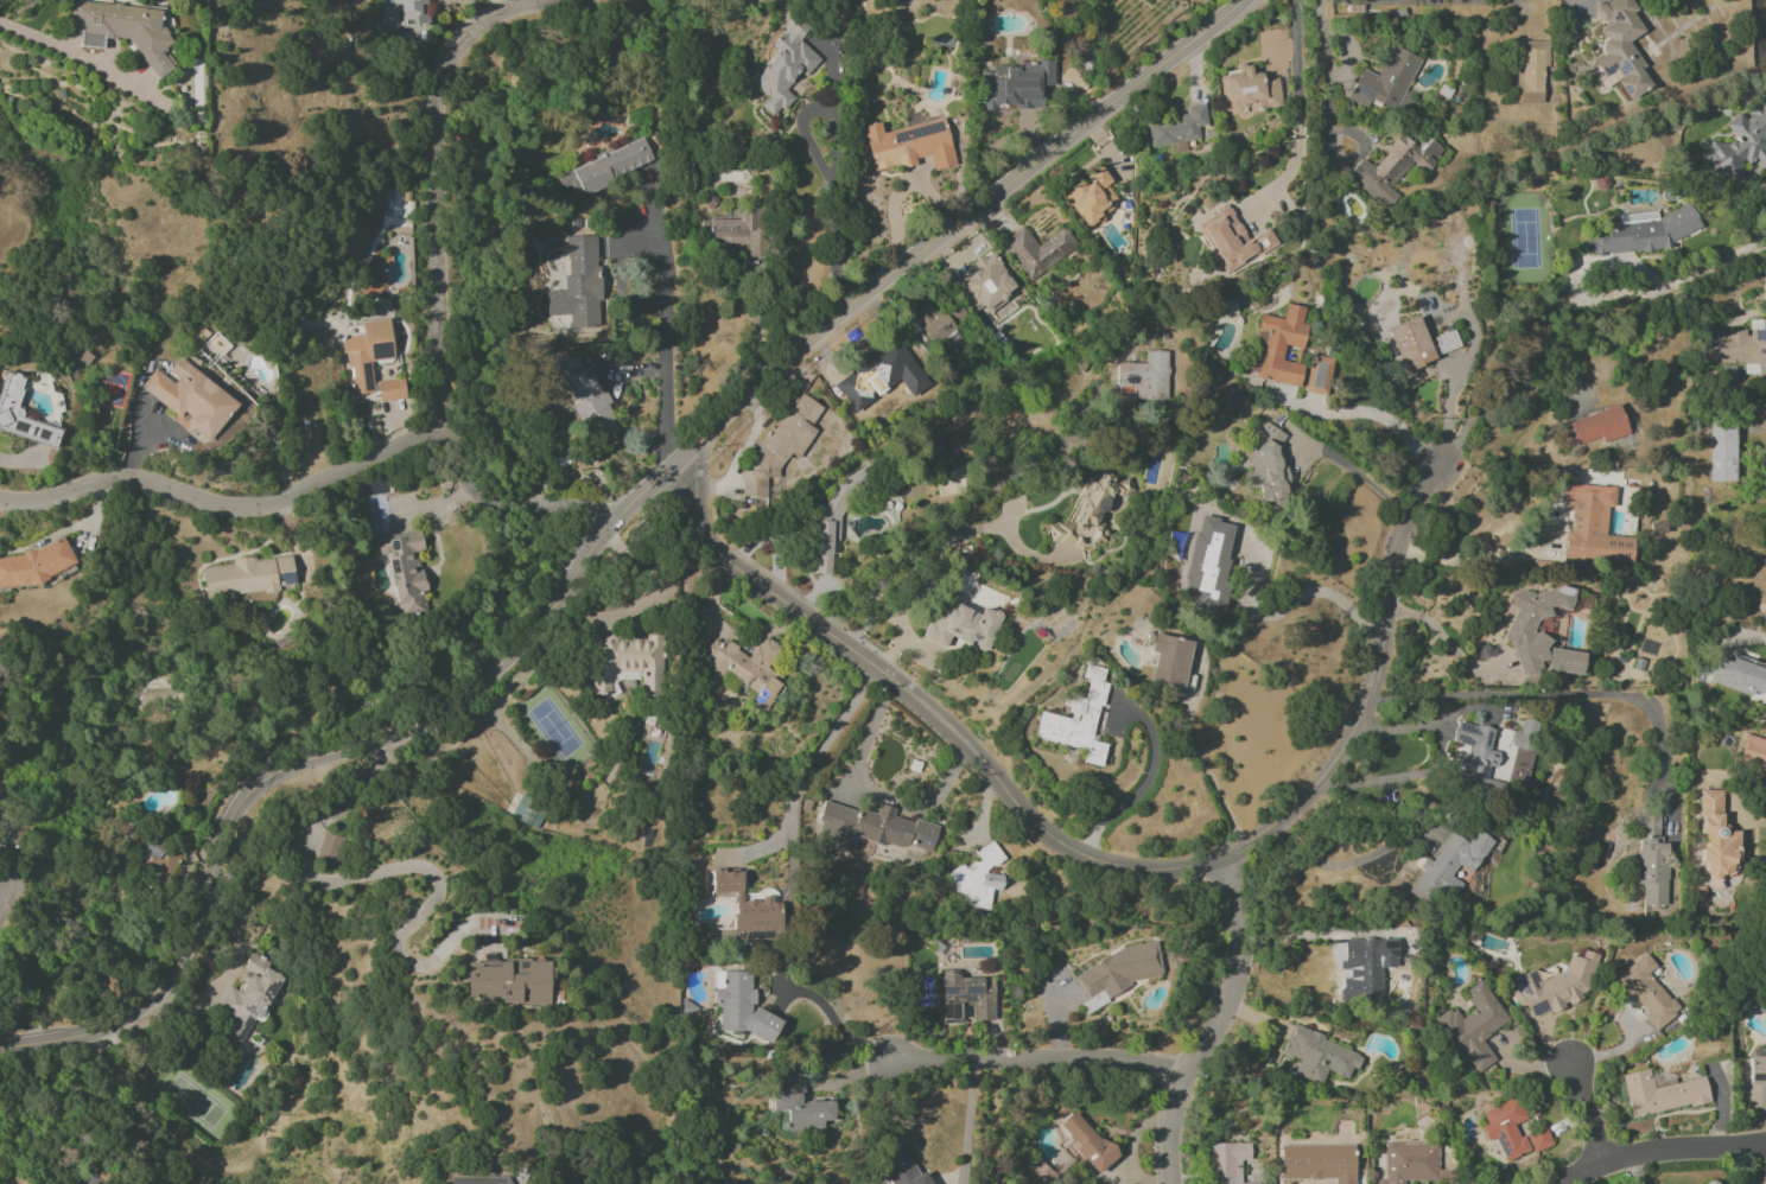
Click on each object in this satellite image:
building: (1179, 0)
road: (1430, 2)
building: (413, 12)
building: (123, 31)
road: (43, 37)
building: (1620, 46)
road: (1321, 62)
building: (784, 65)
building: (1530, 71)
road: (1295, 76)
building: (1014, 85)
building: (1251, 89)
building: (1176, 127)
building: (908, 145)
building: (1739, 145)
road: (1353, 161)
building: (1393, 166)
building: (605, 167)
road: (1010, 180)
road: (439, 189)
building: (1091, 197)
road: (833, 202)
building: (738, 230)
building: (1643, 233)
building: (1233, 240)
building: (1037, 250)
road: (1713, 266)
road: (1575, 279)
building: (579, 281)
building: (989, 282)
building: (939, 320)
building: (1410, 343)
building: (1277, 346)
building: (1738, 346)
building: (366, 354)
road: (666, 357)
building: (869, 374)
building: (1145, 375)
building: (390, 389)
building: (190, 397)
building: (587, 397)
building: (8, 407)
road: (732, 412)
road: (1449, 412)
road: (1365, 414)
building: (1599, 426)
building: (780, 445)
building: (1721, 448)
building: (1265, 466)
road: (1351, 469)
building: (371, 488)
road: (520, 494)
road: (227, 507)
building: (1094, 510)
building: (832, 524)
building: (1593, 526)
road: (947, 529)
road: (1478, 558)
building: (34, 564)
building: (1208, 565)
building: (404, 568)
building: (249, 573)
road: (1303, 596)
building: (963, 626)
building: (1522, 634)
road: (1446, 639)
building: (1169, 660)
building: (625, 662)
building: (745, 668)
building: (1739, 675)
road: (1368, 689)
road: (1577, 694)
road: (926, 711)
building: (1078, 720)
road: (1425, 725)
building: (1524, 733)
road: (865, 740)
road: (351, 746)
building: (1752, 751)
building: (1472, 755)
road: (803, 772)
road: (1400, 776)
road: (1145, 782)
road: (1212, 787)
building: (526, 815)
building: (872, 828)
building: (1716, 836)
building: (330, 847)
road: (8, 848)
building: (160, 854)
building: (1651, 859)
road: (1348, 862)
building: (1448, 865)
road: (402, 866)
building: (978, 877)
road: (2, 881)
road: (2, 889)
building: (748, 905)
road: (1306, 934)
building: (1370, 963)
road: (228, 974)
building: (1116, 974)
building: (510, 980)
building: (1556, 985)
building: (1645, 992)
building: (248, 998)
building: (966, 998)
building: (742, 1006)
road: (834, 1023)
road: (1213, 1024)
building: (1472, 1026)
road: (36, 1040)
road: (9, 1044)
building: (1319, 1056)
road: (1038, 1069)
building: (1757, 1082)
building: (1660, 1093)
building: (802, 1106)
road: (1584, 1118)
road: (966, 1126)
building: (1511, 1131)
building: (1086, 1140)
road: (1130, 1145)
road: (1660, 1151)
building: (1226, 1161)
building: (1317, 1163)
building: (1411, 1163)
building: (901, 1167)
road: (78, 1179)
building: (481, 1179)
building: (1710, 1183)

